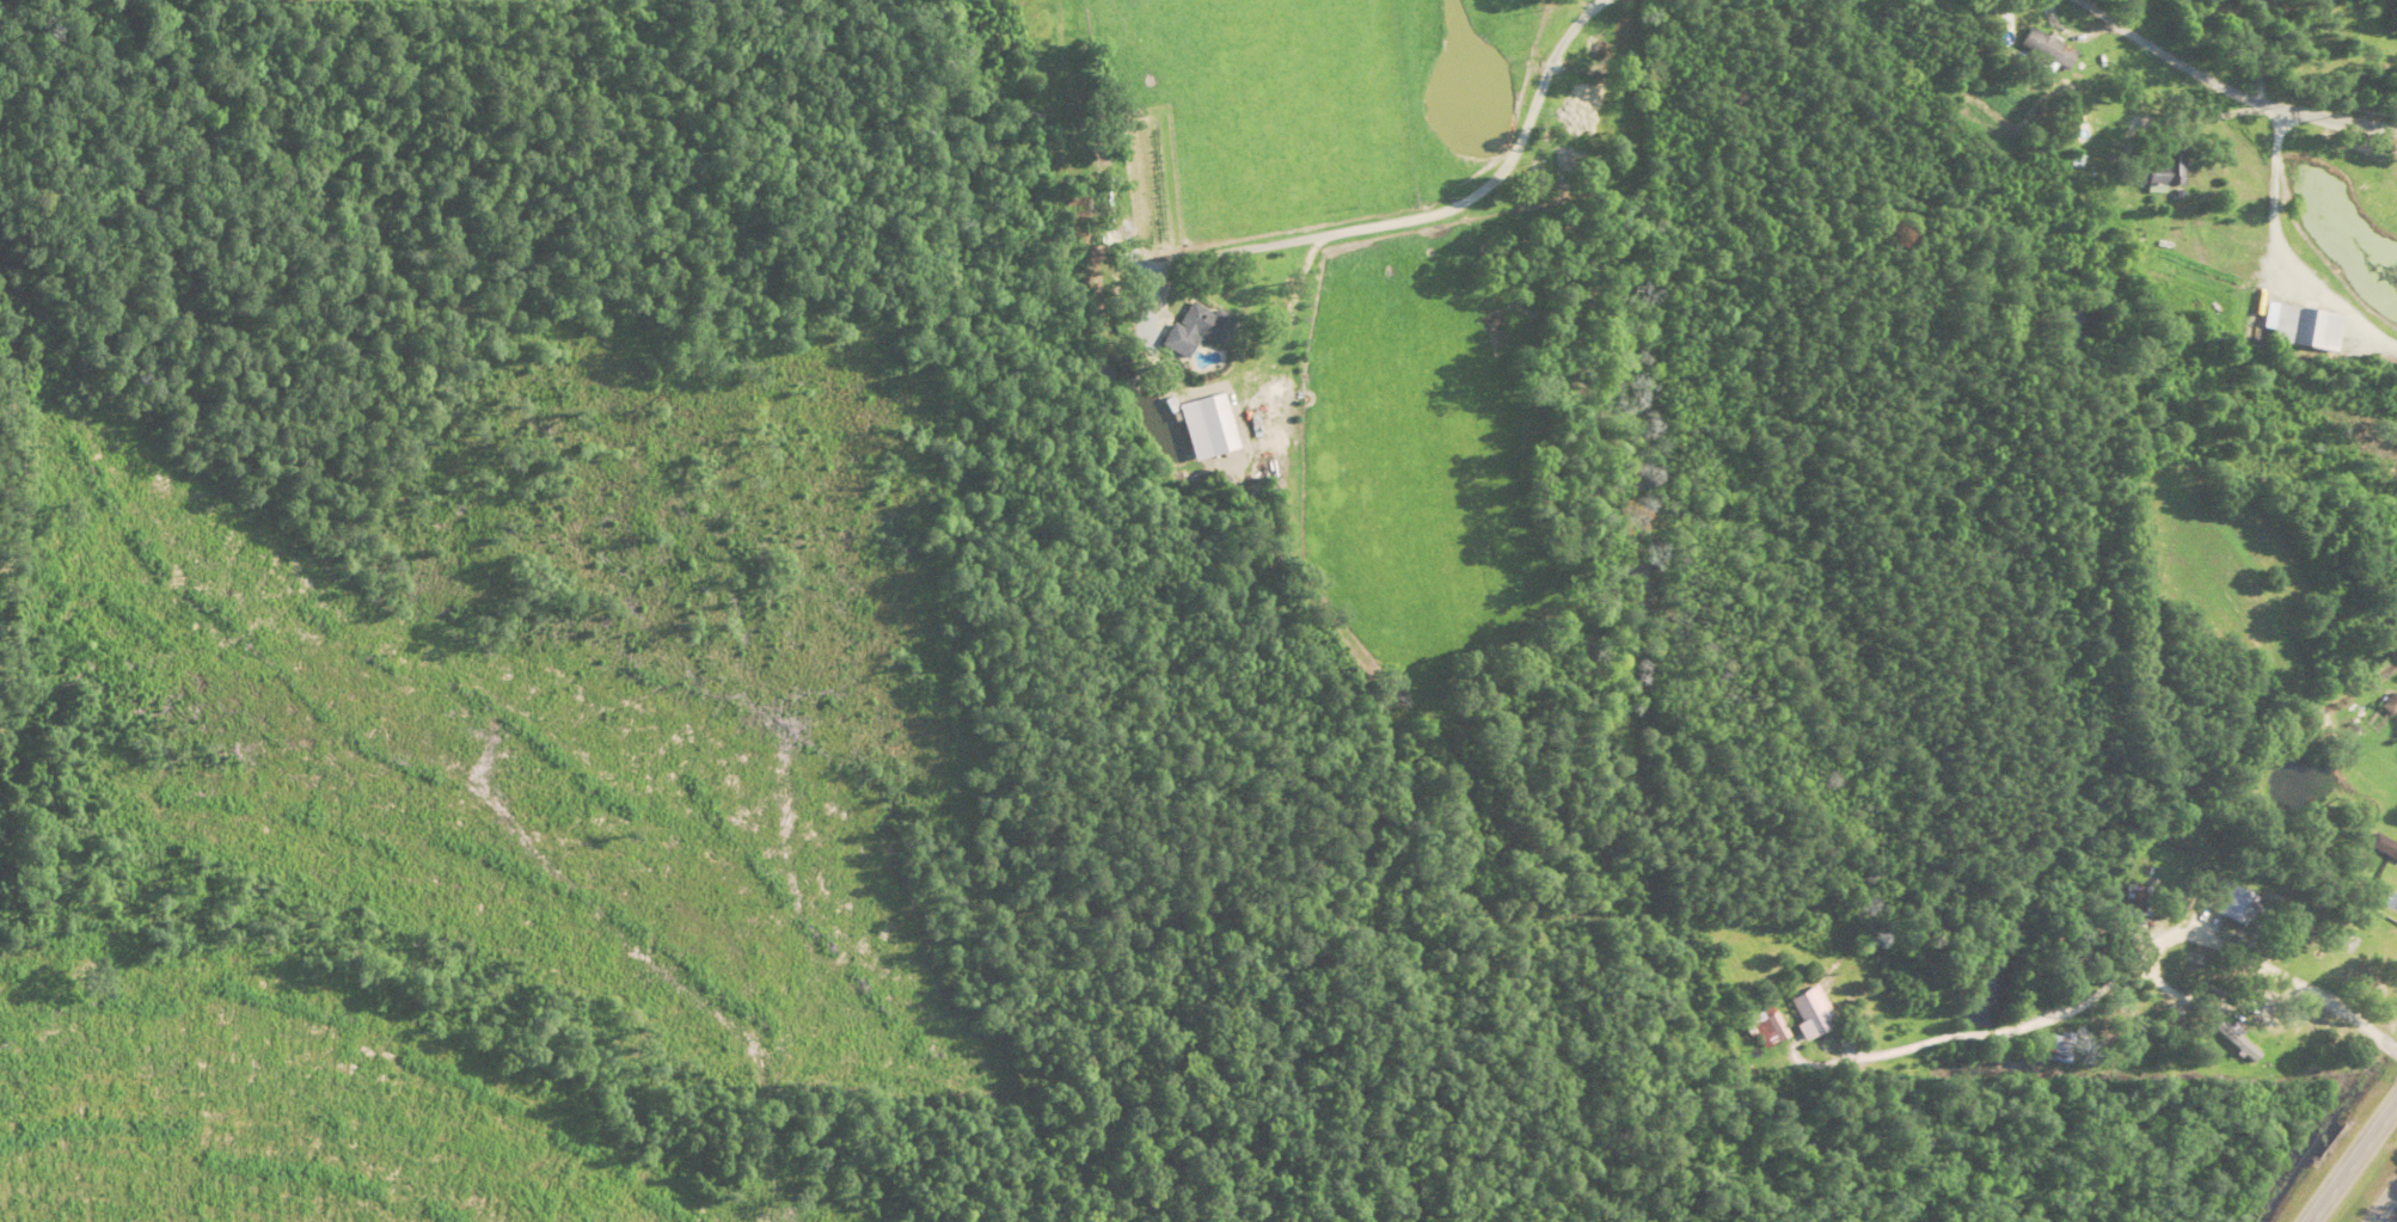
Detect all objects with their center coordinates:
road: (2233, 85)
road: (1408, 213)
road: (2141, 957)
road: (2218, 1001)
road: (2350, 1159)
road: (2381, 1200)

